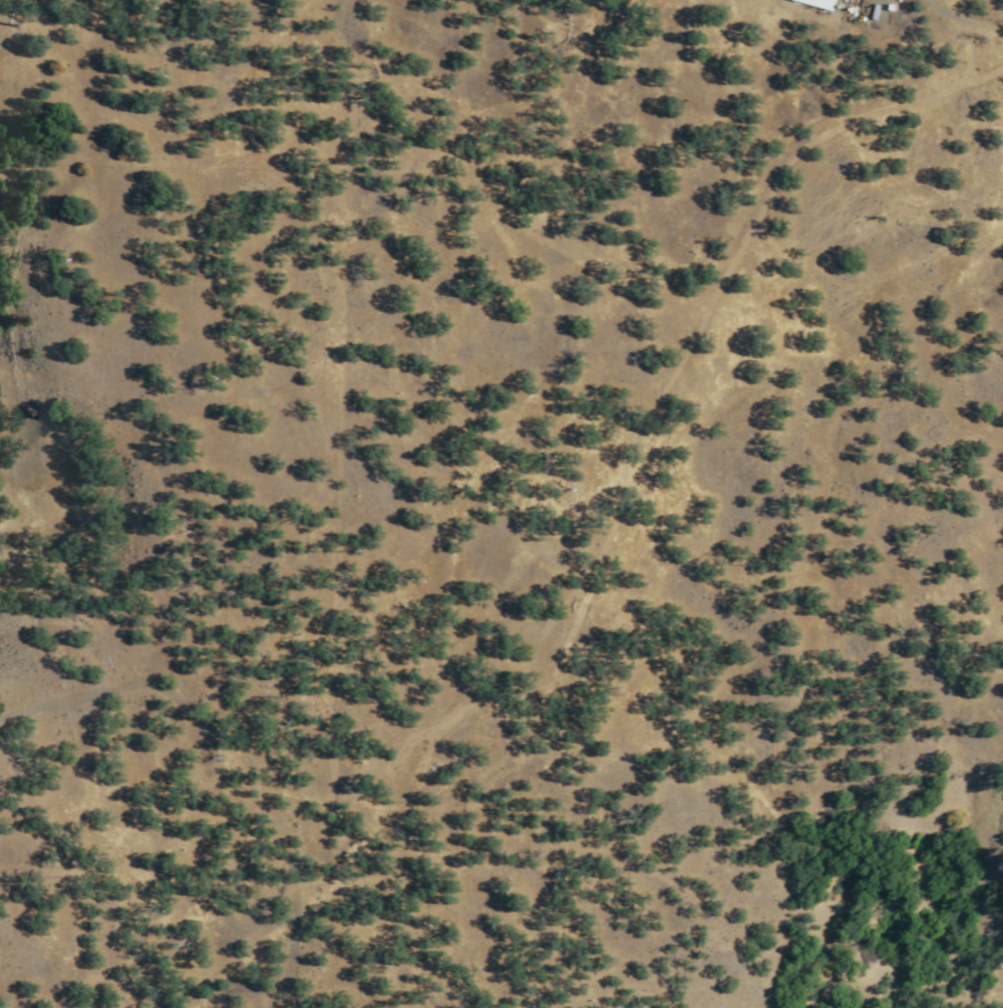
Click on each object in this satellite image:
building: (818, 3)
road: (966, 18)

